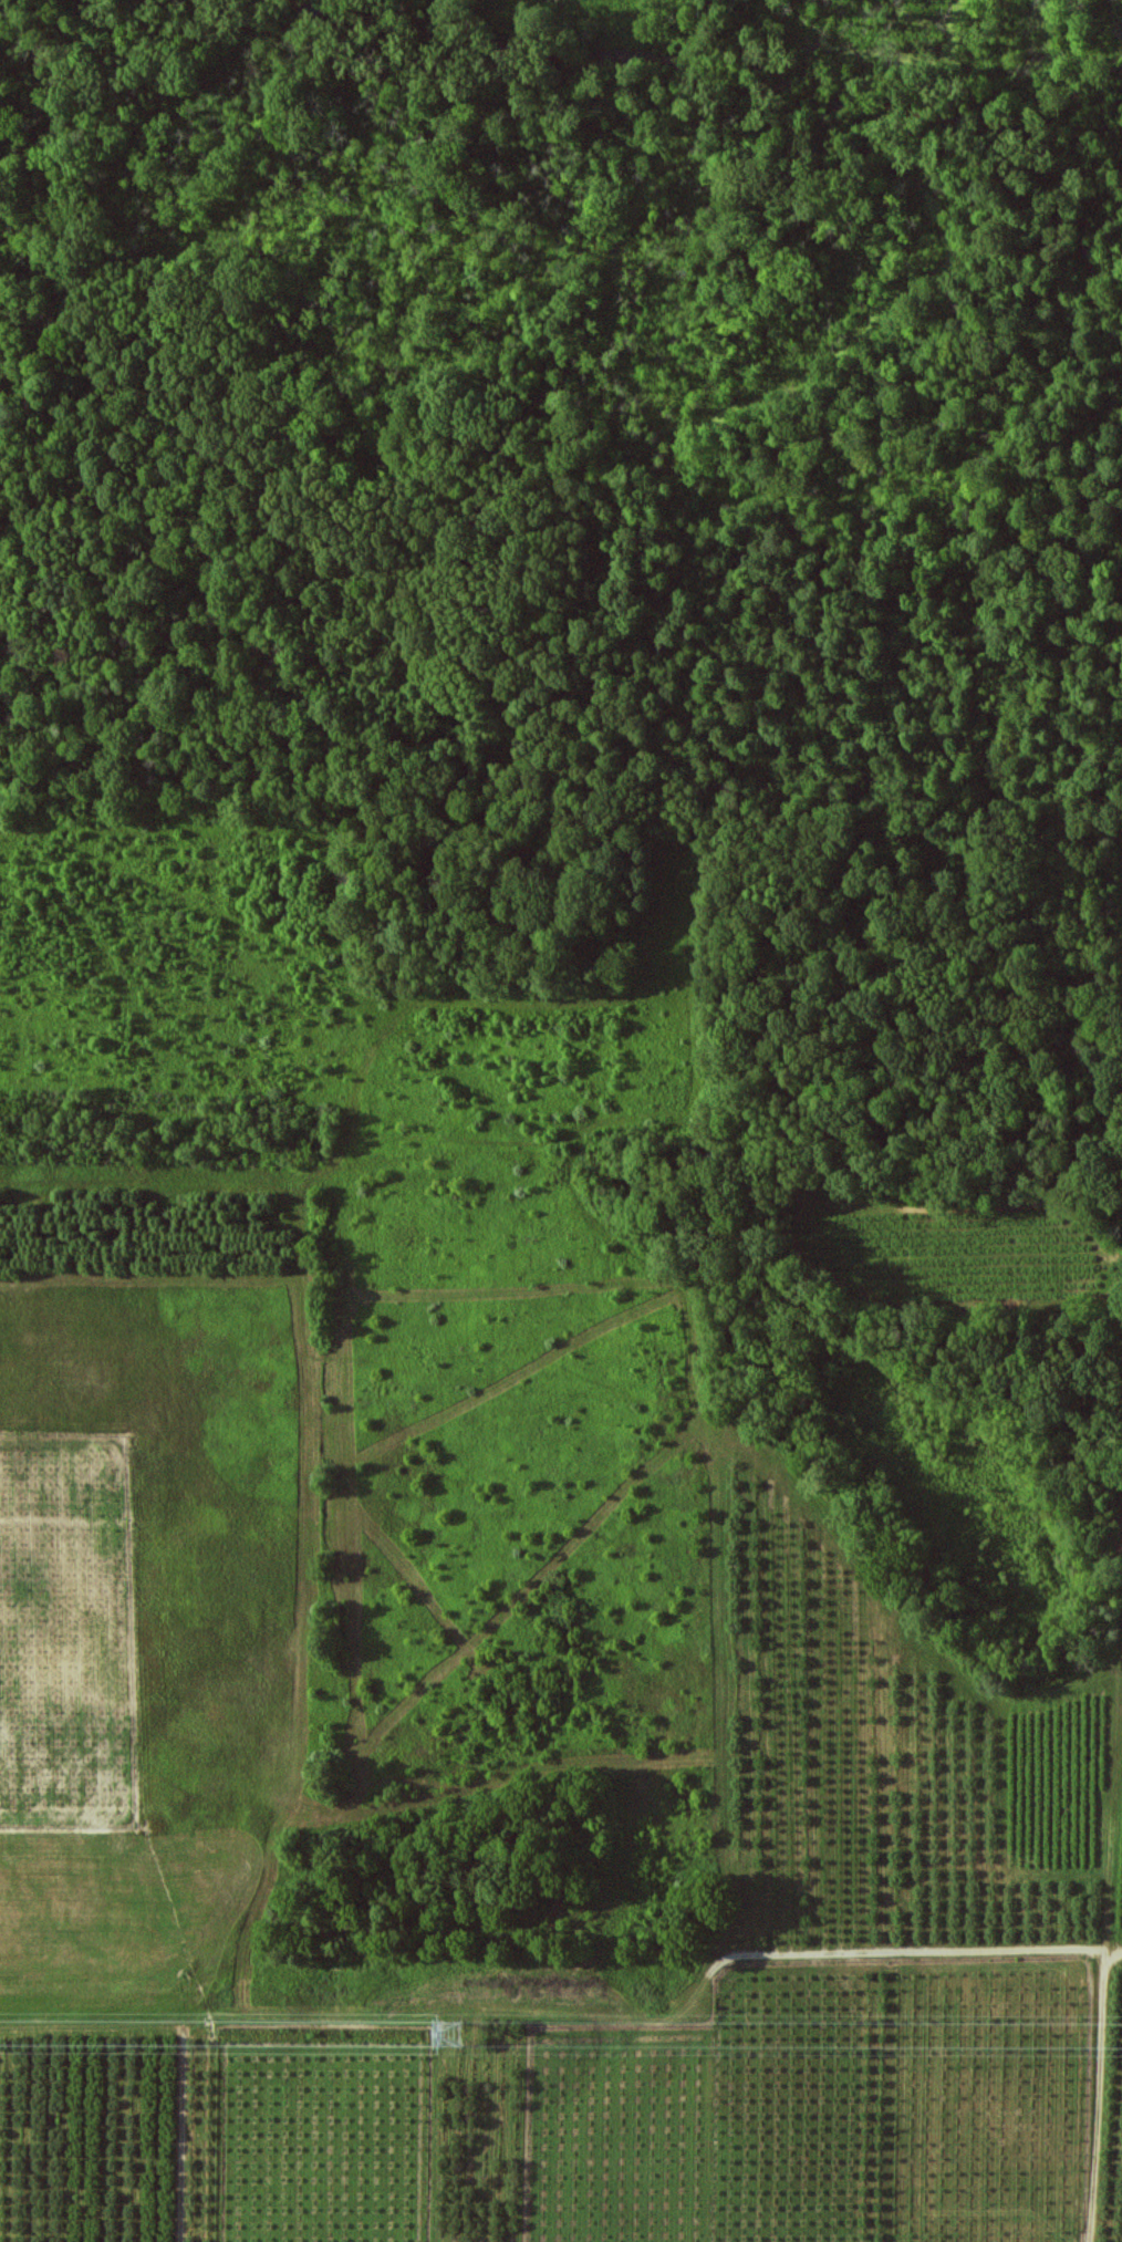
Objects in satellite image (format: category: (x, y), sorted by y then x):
power tower: (443, 2028)

